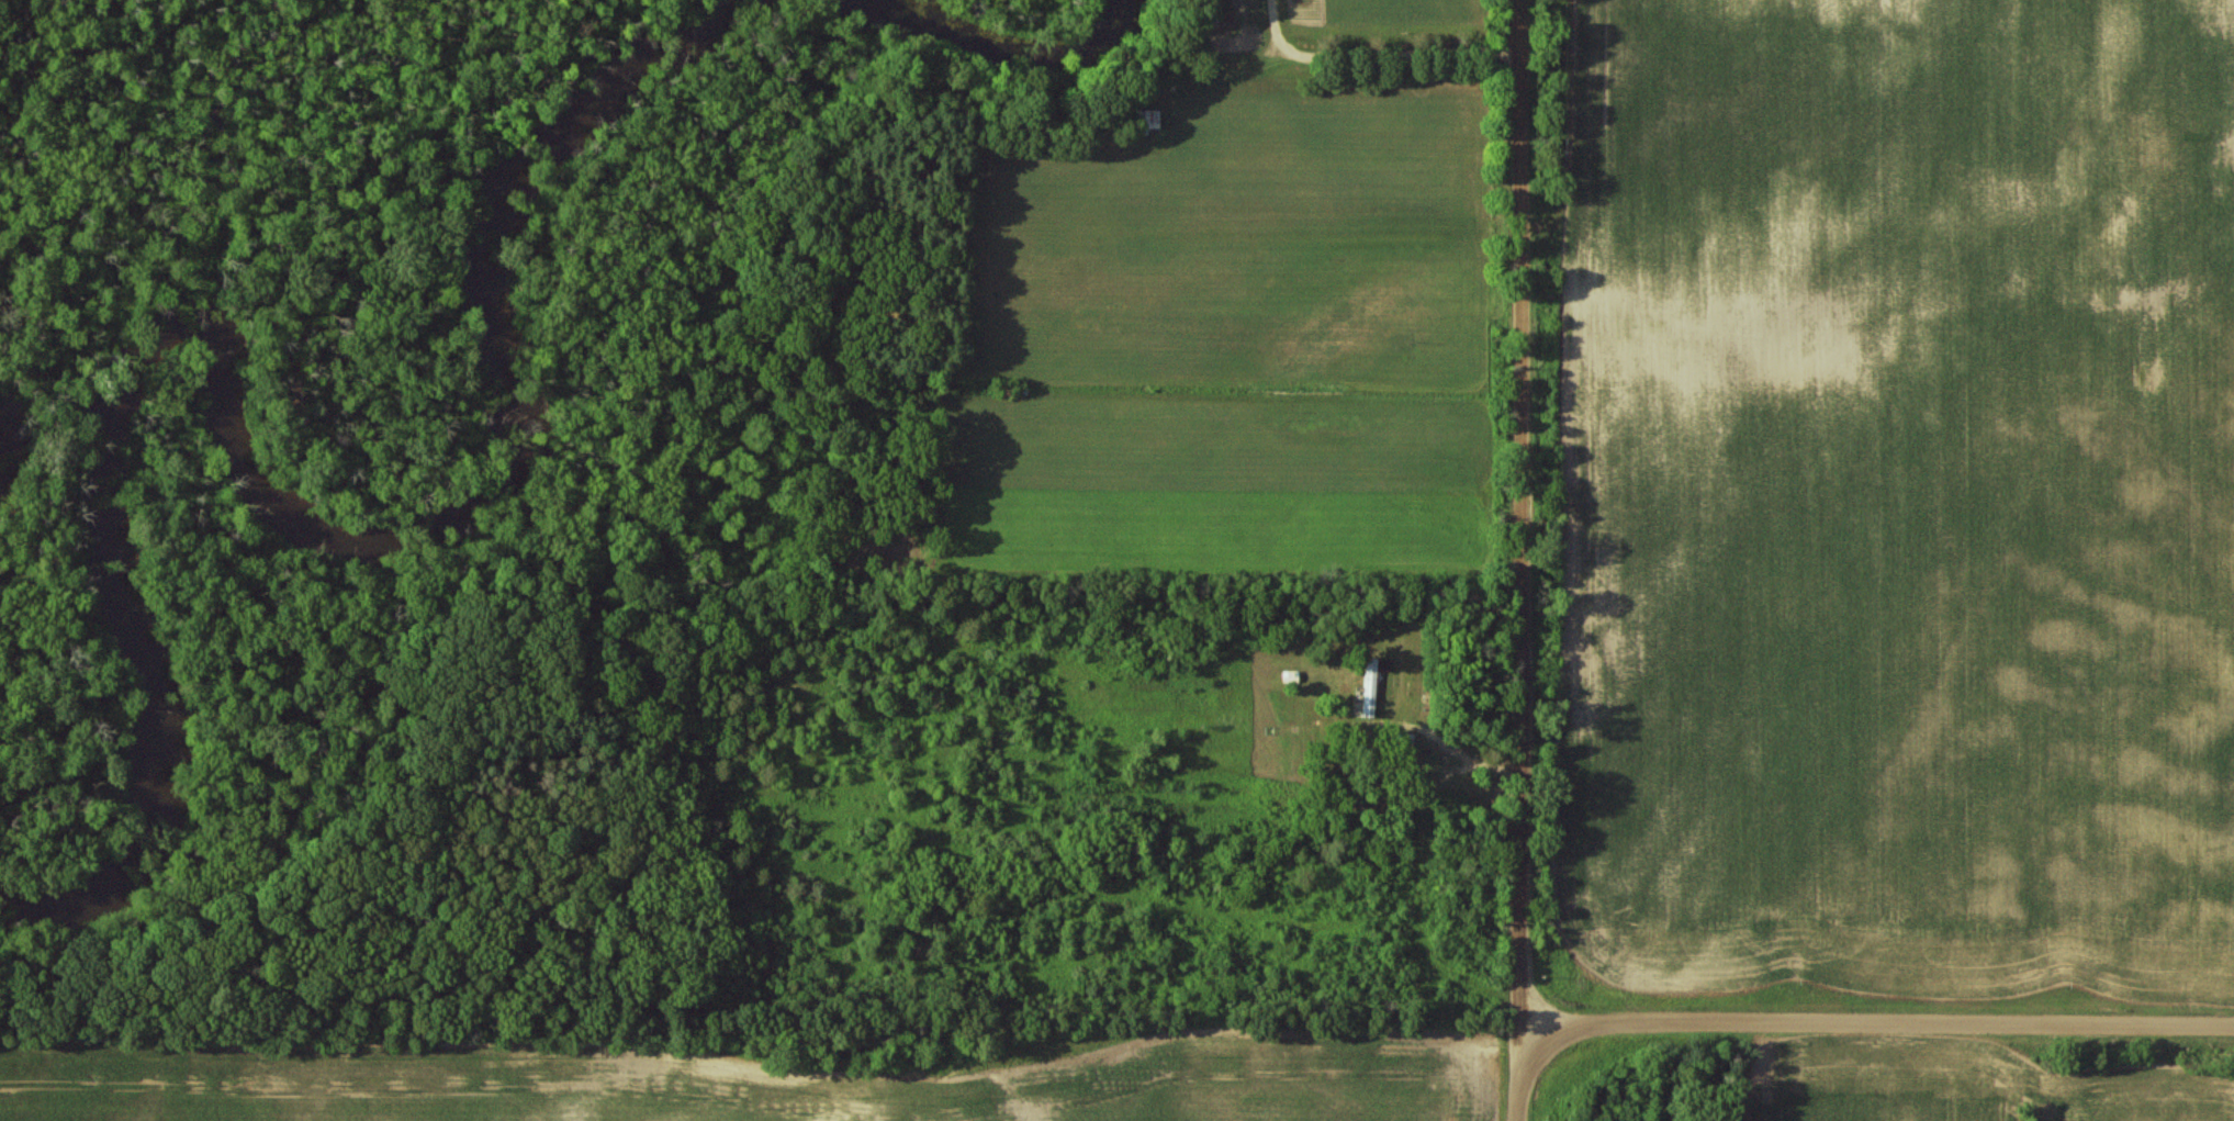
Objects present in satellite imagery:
road: (1376, 51)
road: (1278, 425)
river: (252, 477)
road: (1519, 513)
building: (1370, 687)
building: (1402, 738)
road: (1877, 1031)
road: (1522, 1073)

